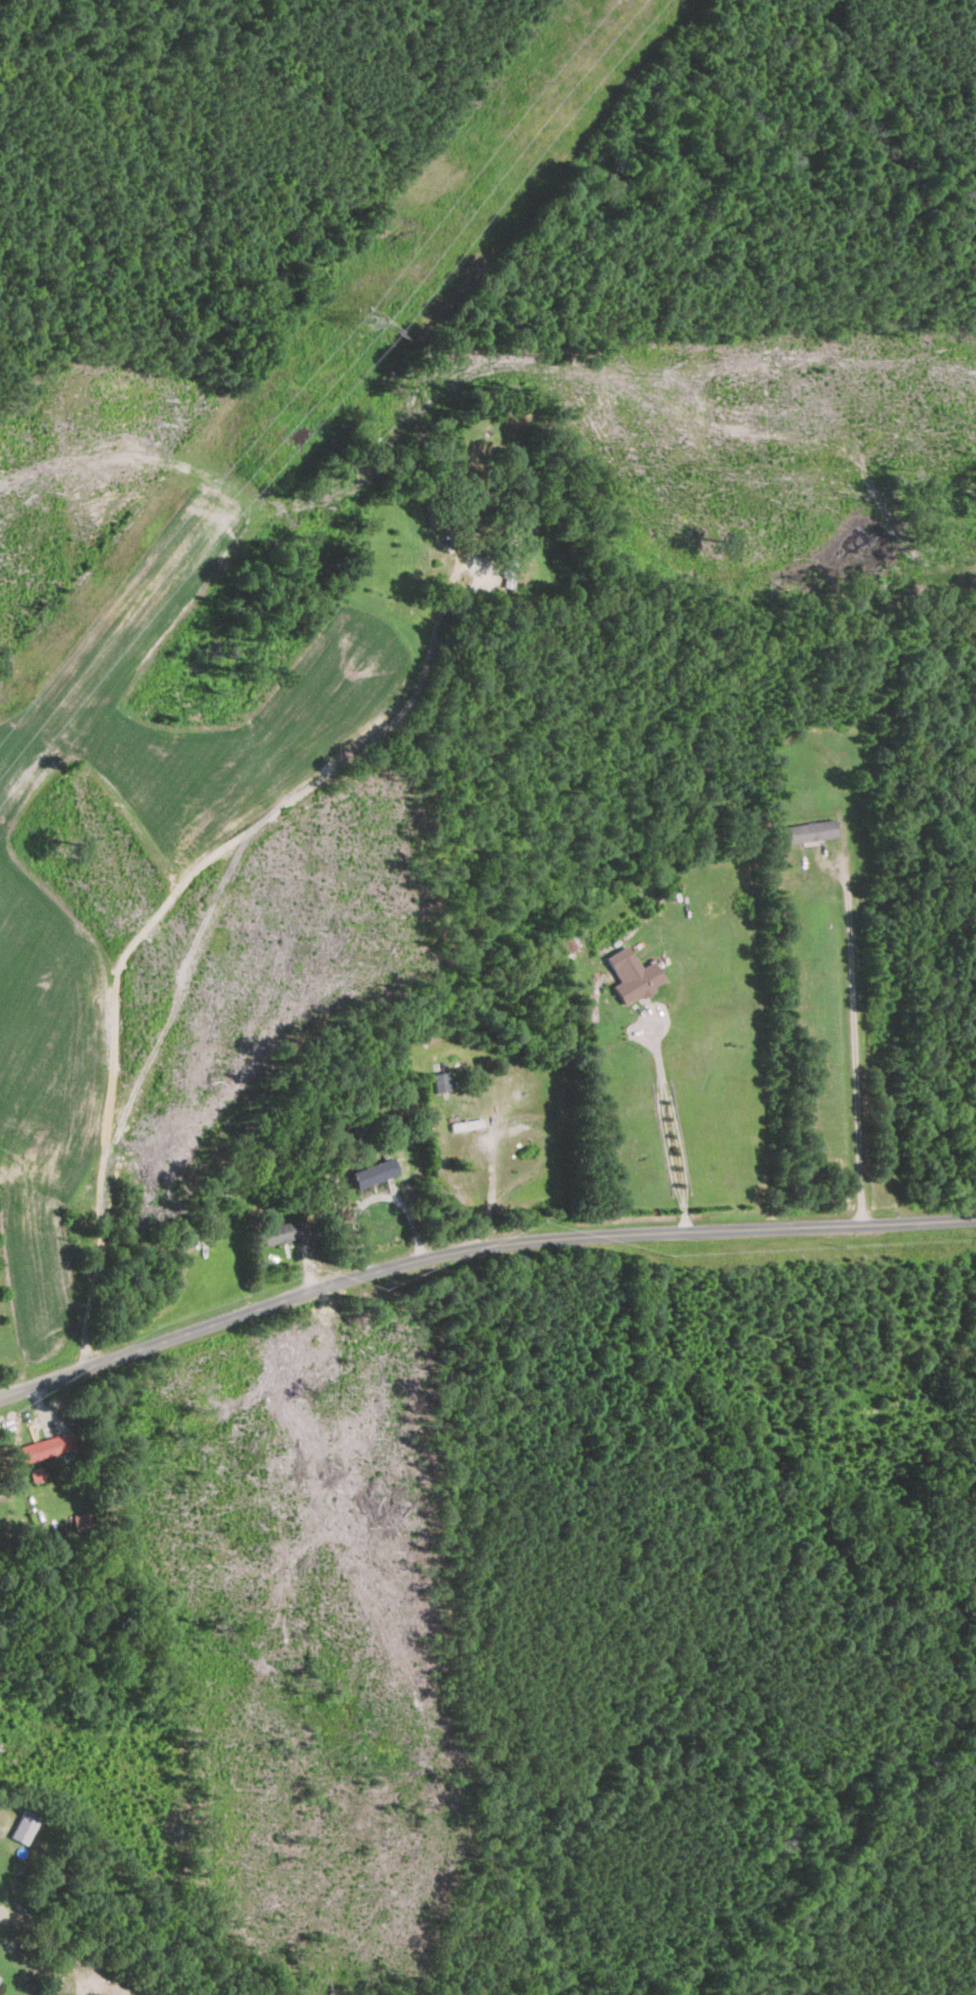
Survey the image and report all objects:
power tower: (371, 307)
building: (810, 831)
building: (631, 974)
road: (854, 1036)
building: (440, 1081)
road: (516, 1129)
road: (669, 1129)
building: (374, 1172)
building: (280, 1232)
road: (476, 1248)
building: (47, 1446)
building: (37, 1474)
building: (81, 1523)
building: (25, 1826)

